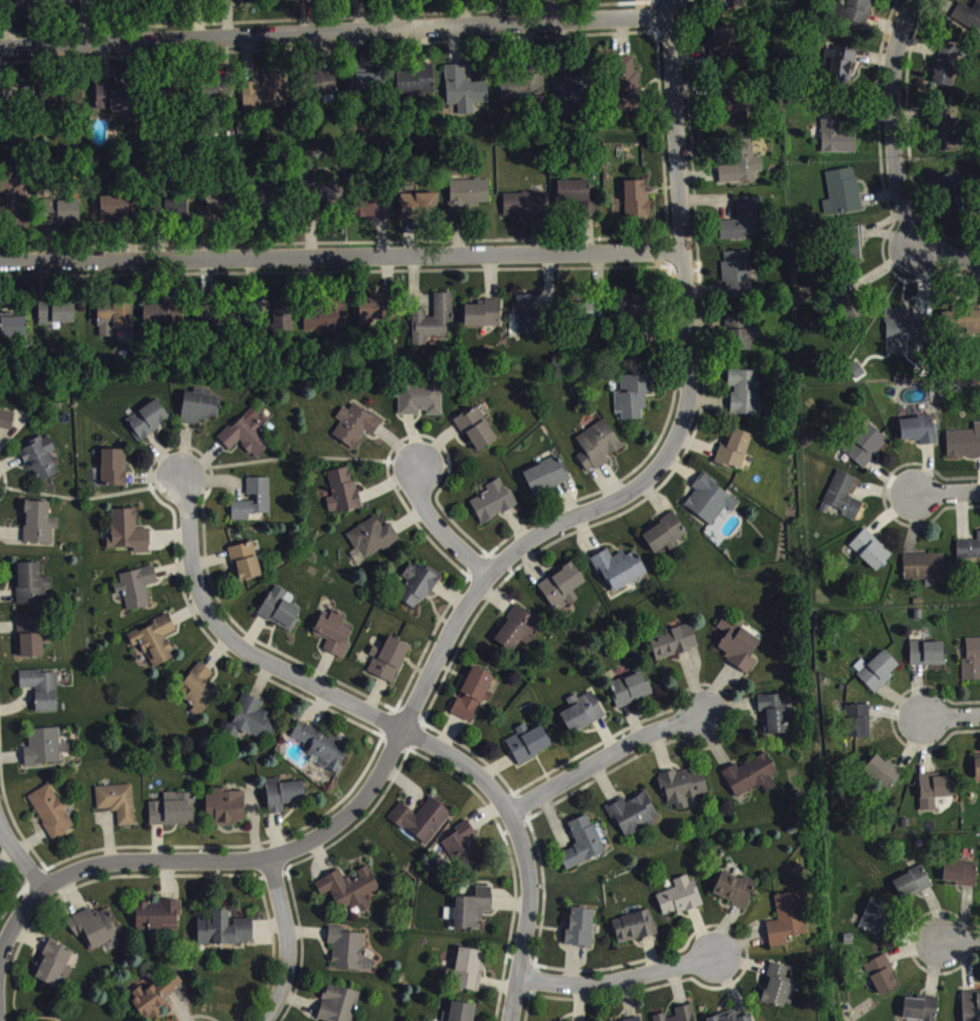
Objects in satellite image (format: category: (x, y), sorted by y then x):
building: (287, 2)
building: (724, 6)
building: (24, 7)
building: (860, 14)
building: (968, 22)
road: (335, 34)
building: (724, 51)
building: (947, 70)
building: (837, 77)
building: (415, 85)
building: (323, 88)
building: (367, 88)
building: (628, 91)
building: (219, 93)
building: (523, 93)
building: (573, 93)
building: (465, 95)
building: (267, 99)
building: (113, 102)
building: (733, 109)
road: (896, 123)
building: (947, 134)
building: (837, 139)
building: (743, 169)
building: (843, 198)
building: (952, 198)
building: (330, 199)
building: (12, 201)
building: (468, 201)
building: (578, 202)
building: (266, 204)
building: (636, 204)
building: (525, 210)
building: (421, 211)
building: (115, 212)
building: (218, 212)
building: (174, 213)
building: (373, 213)
building: (66, 216)
building: (745, 226)
building: (853, 249)
road: (949, 256)
road: (342, 258)
building: (738, 279)
building: (372, 317)
building: (592, 318)
building: (484, 319)
building: (157, 320)
building: (115, 321)
building: (528, 321)
building: (327, 322)
building: (283, 324)
building: (434, 325)
building: (968, 326)
building: (214, 331)
building: (14, 332)
building: (903, 335)
building: (741, 338)
building: (745, 397)
building: (634, 401)
building: (420, 404)
building: (200, 413)
building: (7, 425)
building: (148, 425)
building: (356, 430)
building: (477, 435)
building: (920, 435)
building: (248, 440)
building: (964, 448)
building: (598, 451)
building: (866, 451)
building: (735, 455)
building: (41, 463)
building: (115, 473)
building: (547, 481)
road: (949, 493)
building: (343, 496)
road: (625, 499)
building: (844, 501)
building: (254, 505)
building: (710, 505)
building: (495, 507)
building: (39, 528)
road: (442, 530)
building: (129, 537)
building: (665, 540)
building: (372, 545)
building: (871, 555)
building: (969, 555)
building: (246, 566)
building: (925, 572)
building: (620, 574)
building: (32, 590)
building: (418, 590)
building: (137, 593)
building: (563, 593)
building: (281, 615)
building: (518, 635)
building: (335, 638)
building: (31, 643)
building: (156, 646)
road: (242, 646)
building: (674, 648)
building: (739, 649)
building: (927, 659)
building: (389, 665)
building: (972, 666)
building: (878, 676)
building: (200, 694)
building: (43, 695)
building: (631, 695)
building: (473, 700)
building: (582, 718)
building: (776, 719)
road: (954, 720)
building: (255, 724)
building: (859, 726)
building: (529, 749)
building: (44, 752)
building: (324, 752)
road: (605, 760)
building: (978, 774)
building: (885, 777)
building: (752, 781)
building: (683, 793)
building: (935, 796)
building: (284, 800)
building: (119, 808)
building: (227, 812)
building: (174, 815)
building: (52, 817)
building: (634, 819)
building: (422, 825)
road: (526, 846)
building: (583, 848)
building: (463, 851)
road: (21, 858)
road: (110, 866)
building: (962, 879)
building: (913, 889)
building: (350, 894)
building: (735, 895)
building: (680, 902)
building: (474, 915)
building: (159, 921)
building: (877, 922)
building: (789, 923)
building: (635, 932)
building: (95, 933)
building: (580, 933)
building: (225, 935)
road: (291, 941)
road: (963, 945)
building: (350, 956)
building: (53, 969)
building: (469, 975)
building: (882, 980)
road: (618, 984)
building: (779, 992)
building: (158, 1000)
building: (340, 1007)
building: (971, 1009)
building: (922, 1012)
building: (462, 1015)
building: (685, 1016)
building: (730, 1019)
building: (663, 1020)
building: (751, 1020)

